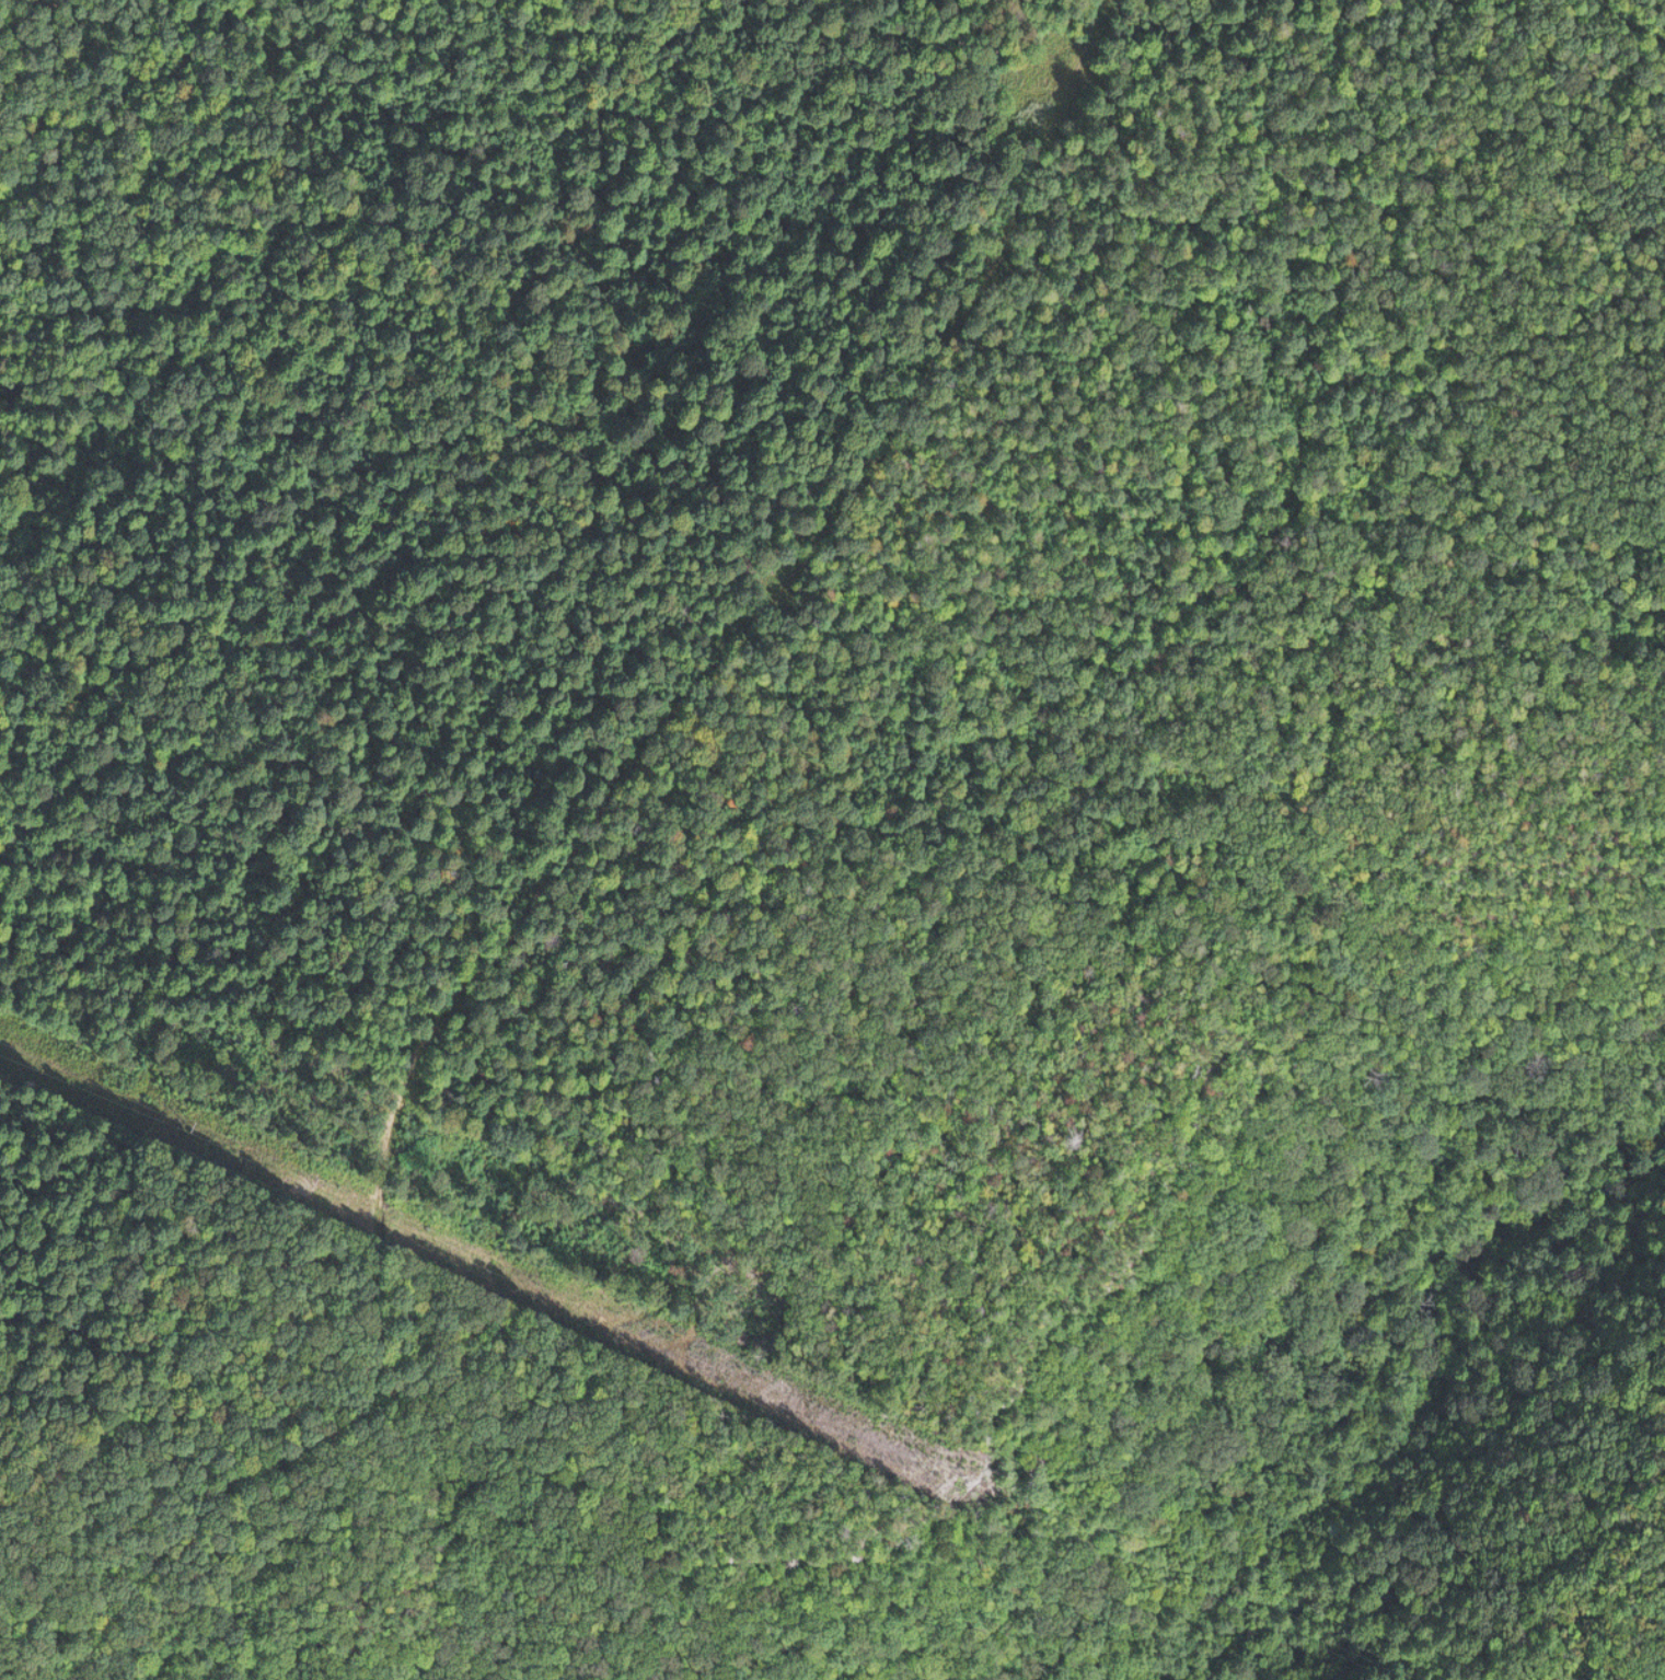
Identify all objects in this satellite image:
road: (781, 473)

